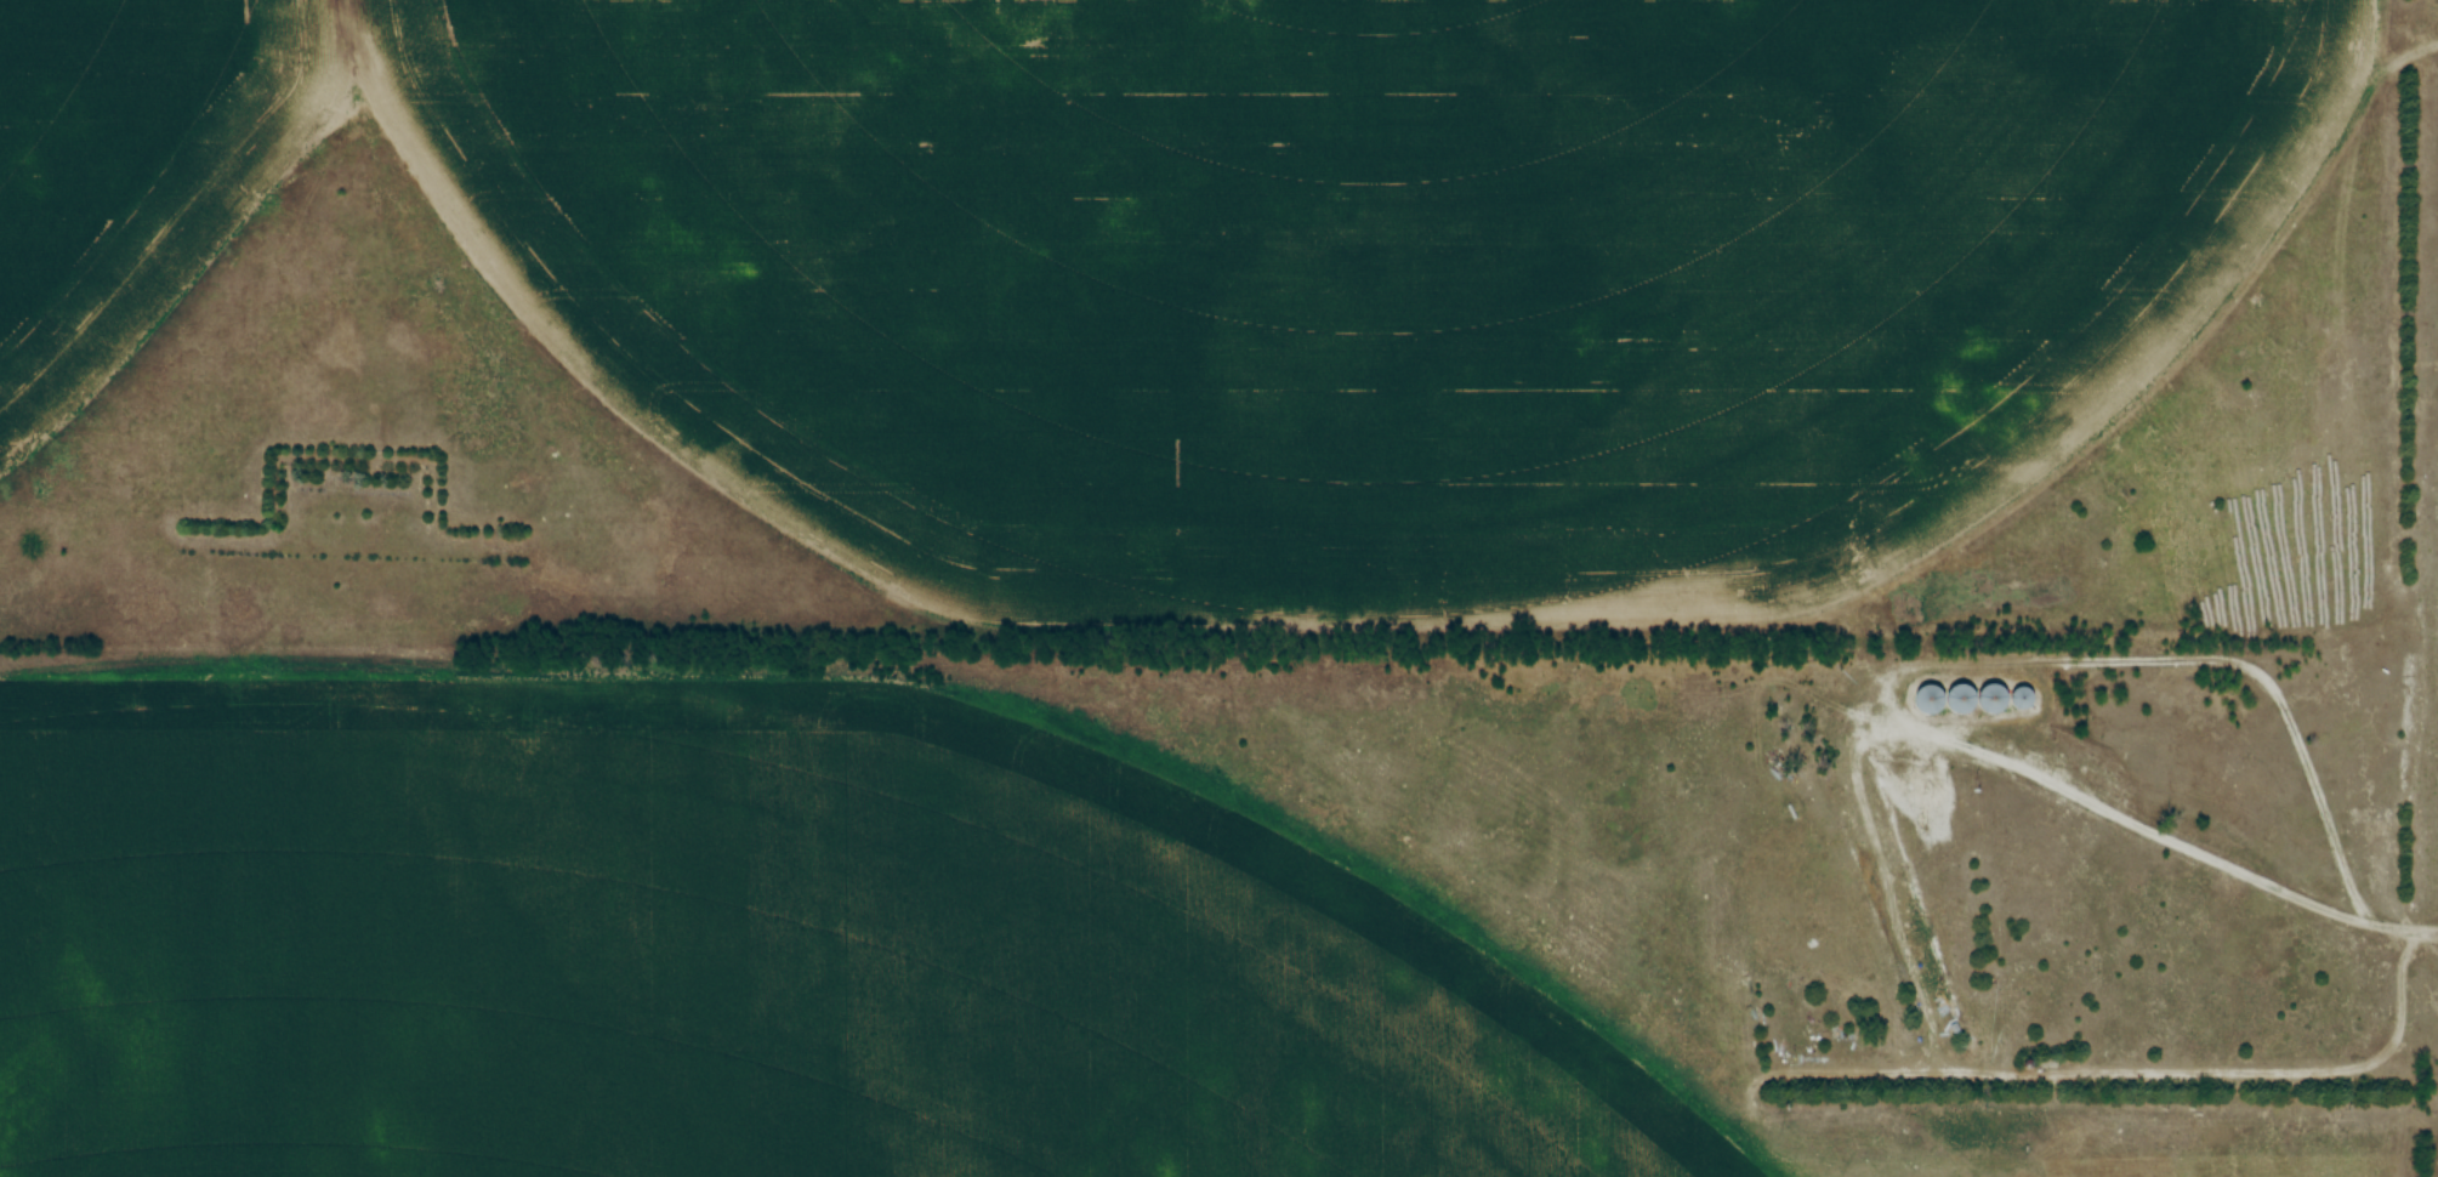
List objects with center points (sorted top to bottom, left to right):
building: (1927, 700)
building: (1974, 700)

